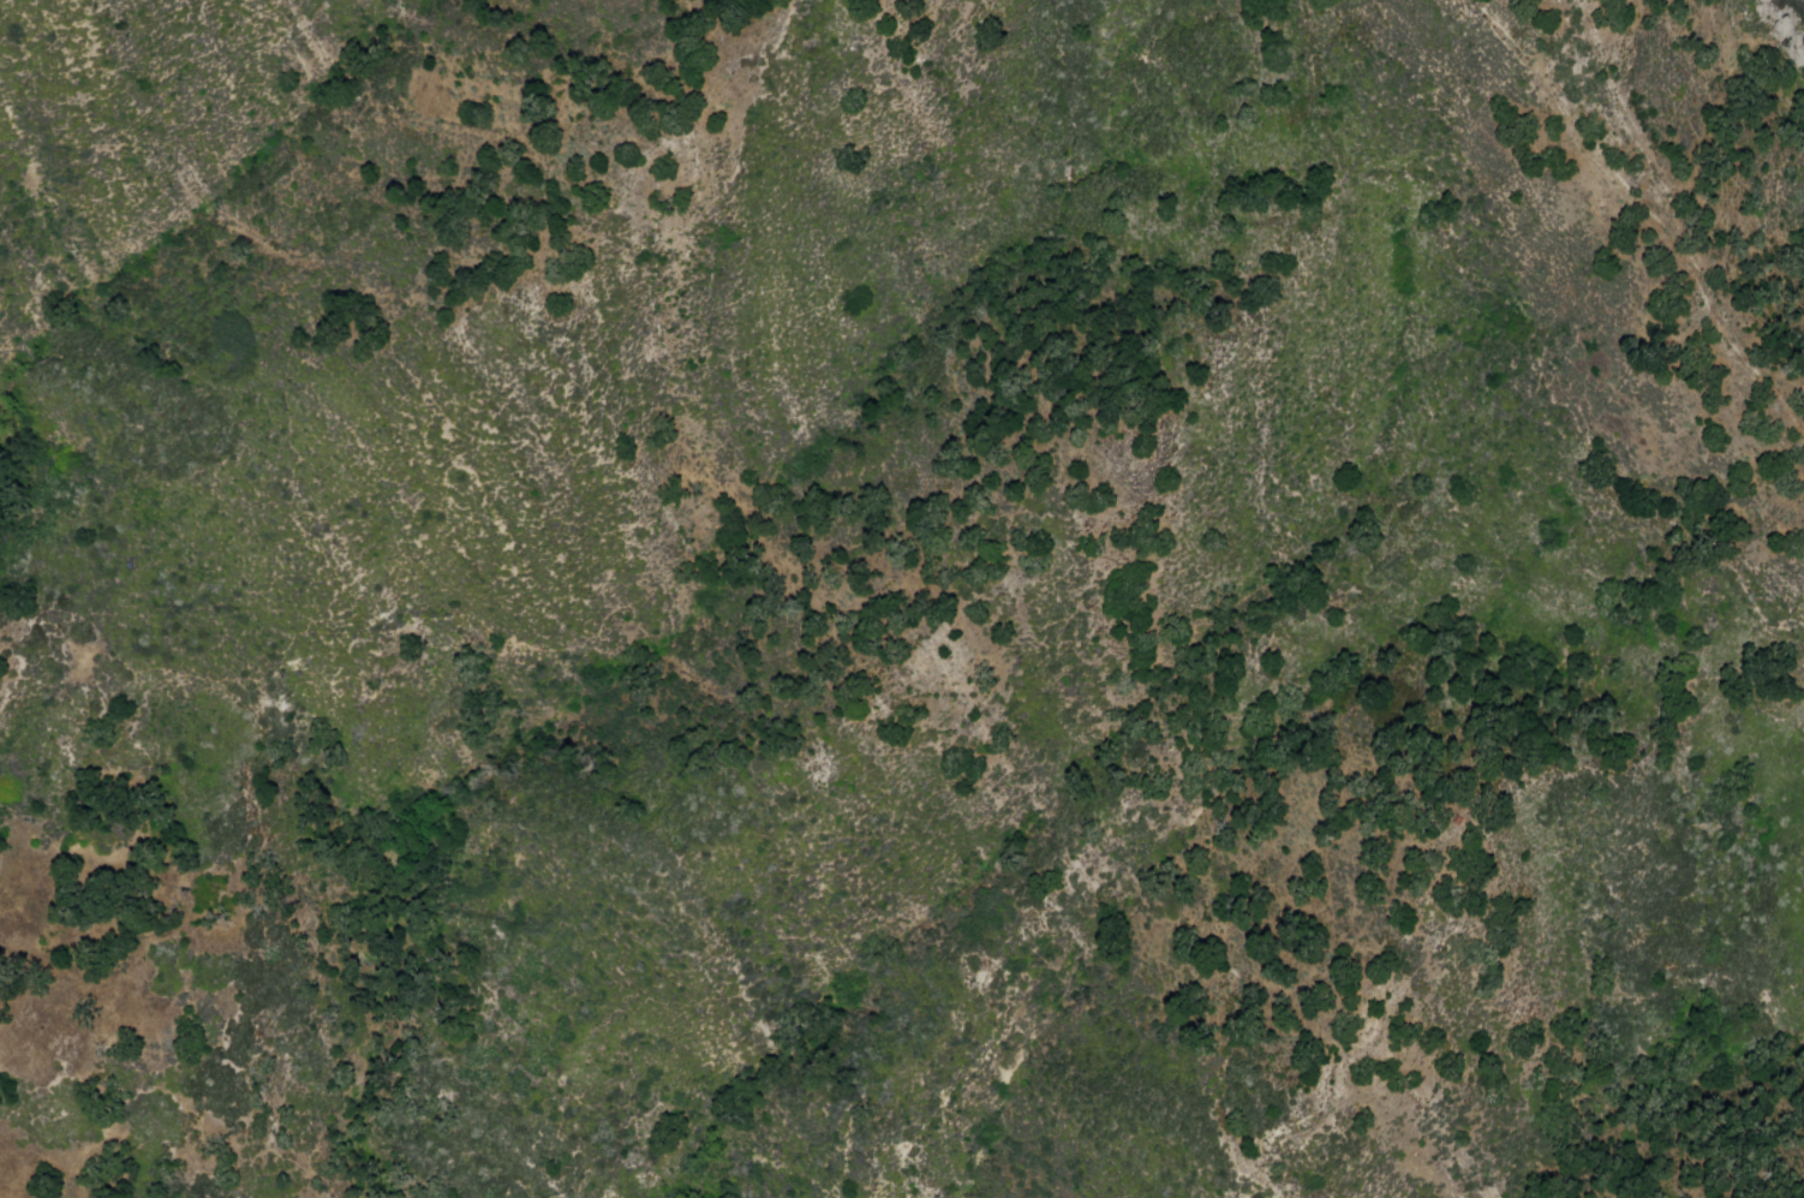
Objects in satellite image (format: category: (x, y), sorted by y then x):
road: (1649, 222)

